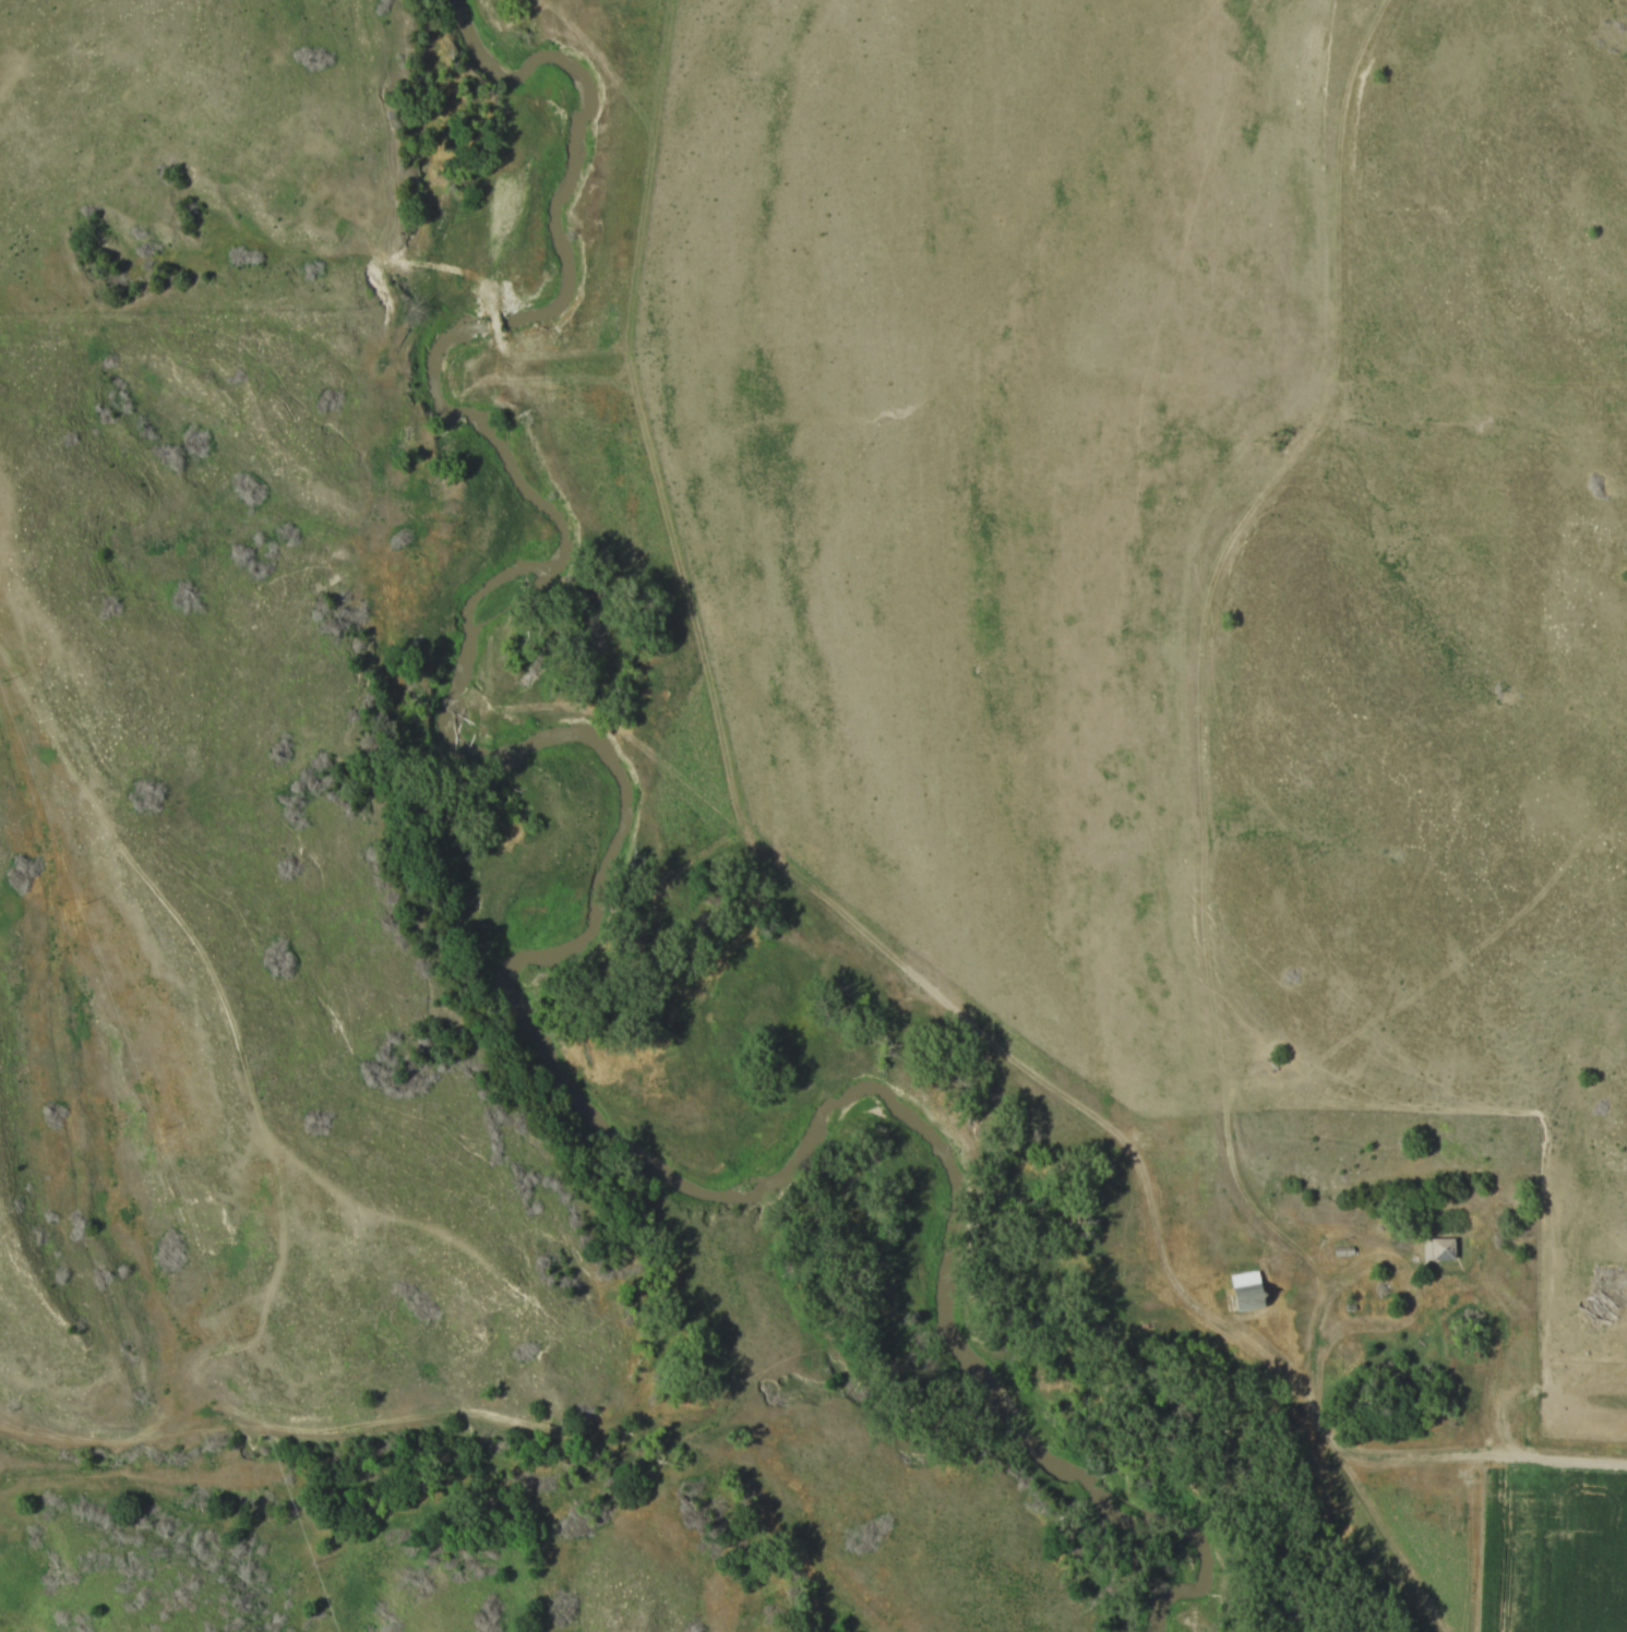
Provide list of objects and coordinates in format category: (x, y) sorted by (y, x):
building: (1441, 1248)
building: (1244, 1279)
building: (1248, 1298)
road: (1487, 1403)
crop: (1553, 1549)

